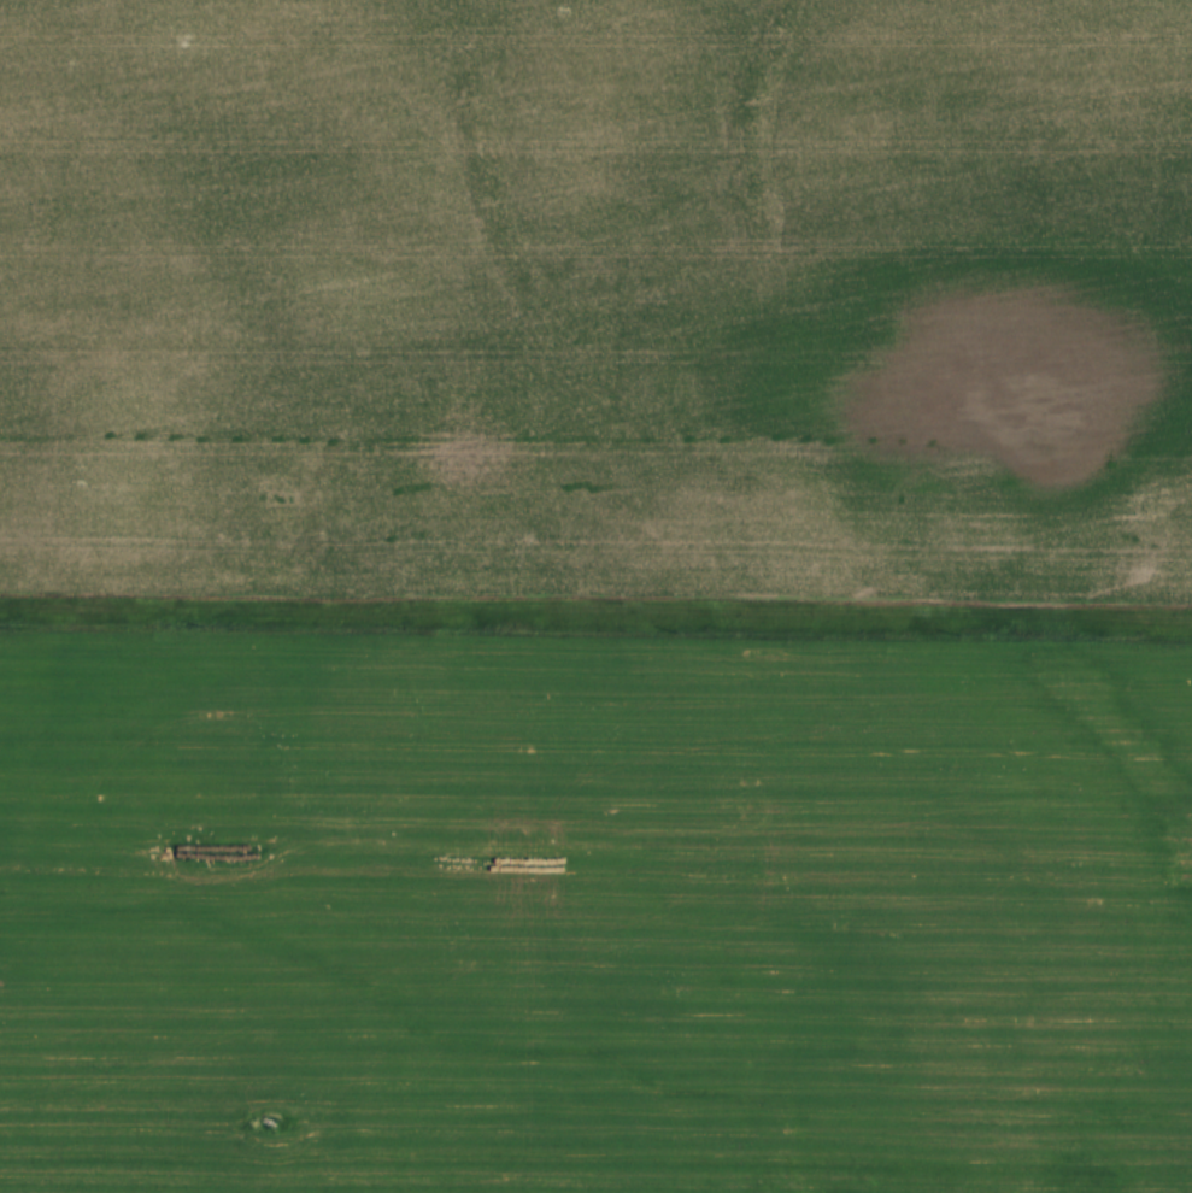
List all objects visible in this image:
road: (595, 607)

